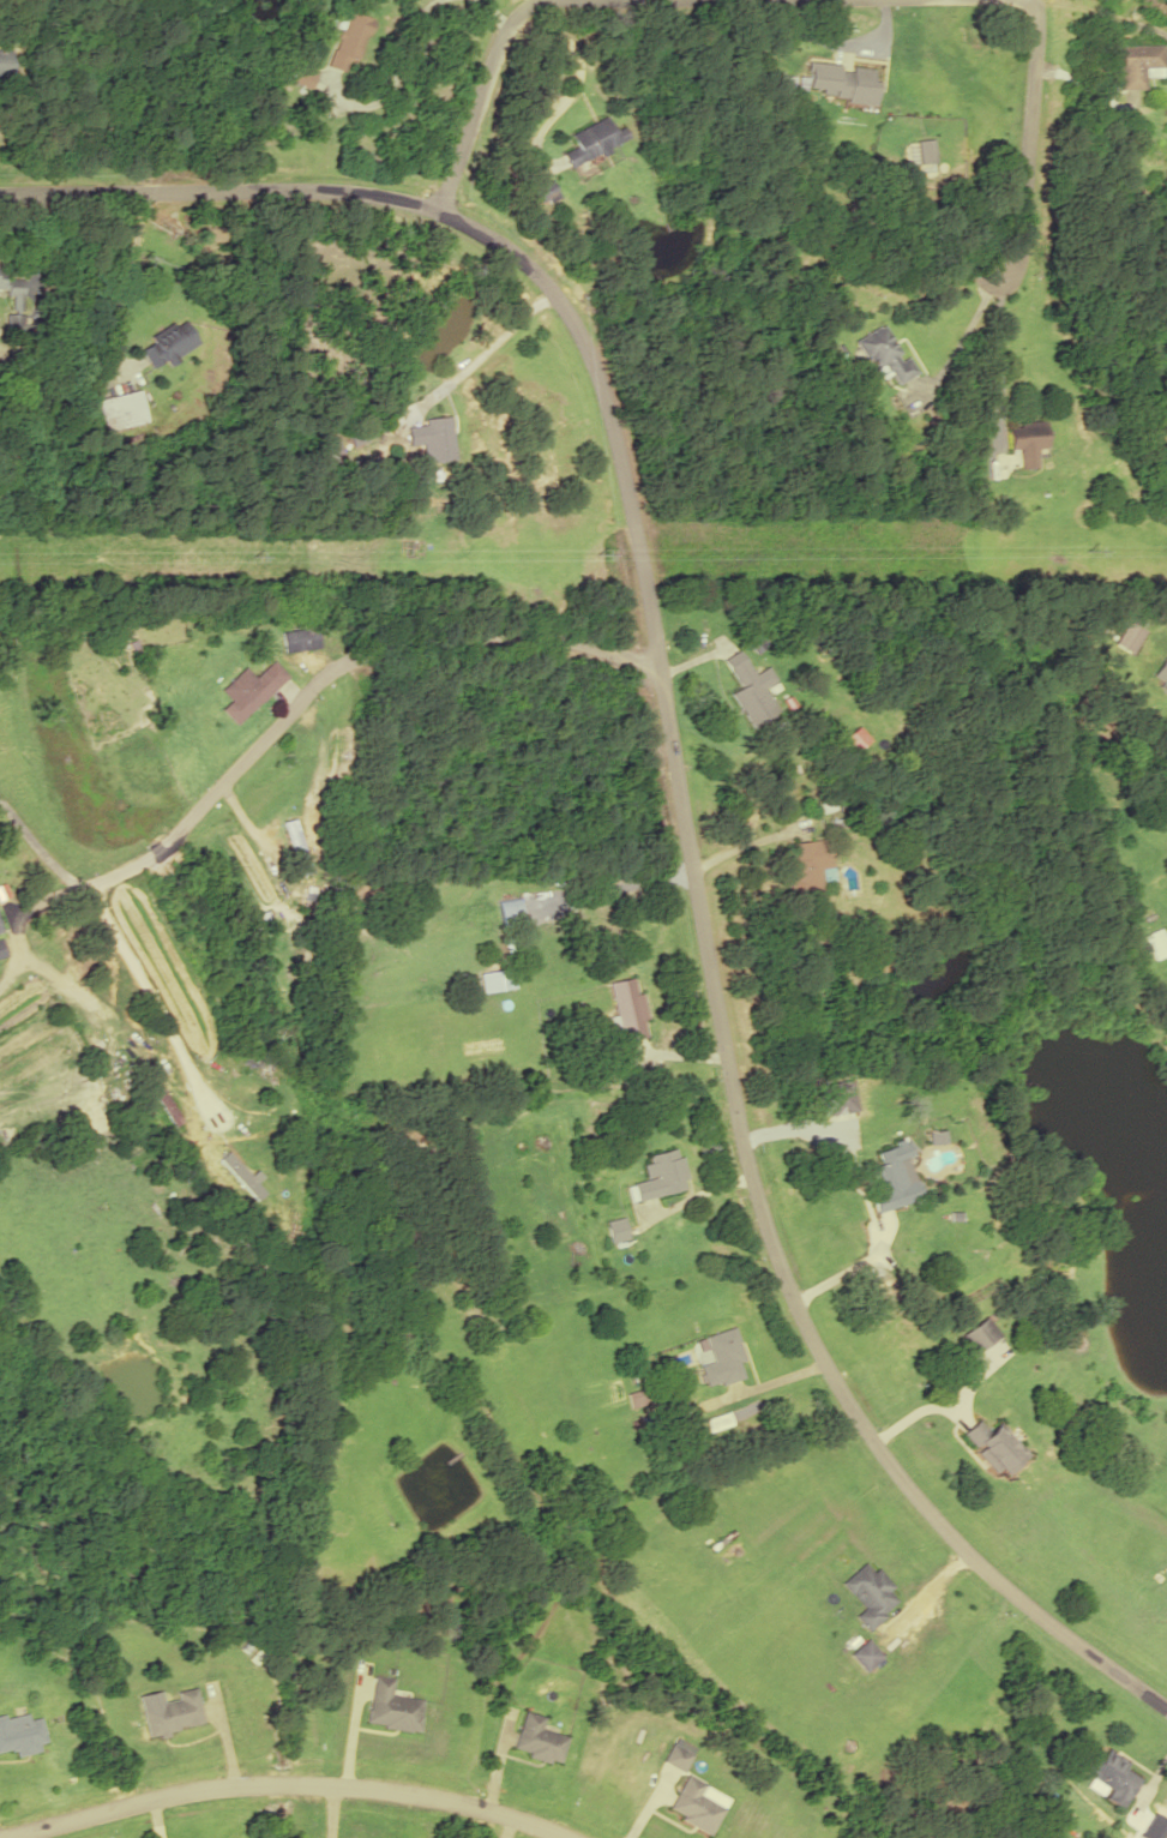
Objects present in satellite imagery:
building: (349, 40)
building: (2, 61)
building: (1138, 64)
road: (486, 71)
building: (302, 78)
building: (855, 84)
building: (591, 139)
road: (1028, 139)
building: (926, 150)
building: (13, 304)
building: (169, 343)
building: (884, 354)
building: (121, 409)
building: (431, 437)
building: (1028, 439)
building: (299, 638)
building: (744, 687)
building: (249, 690)
road: (306, 693)
road: (678, 782)
building: (296, 846)
building: (806, 861)
building: (1108, 883)
building: (509, 912)
building: (1156, 943)
building: (497, 980)
building: (628, 1009)
building: (89, 1046)
building: (660, 1175)
building: (888, 1177)
building: (615, 1229)
building: (975, 1334)
building: (722, 1357)
building: (993, 1448)
building: (870, 1594)
building: (864, 1656)
building: (390, 1707)
building: (172, 1713)
building: (19, 1734)
building: (537, 1740)
building: (676, 1756)
building: (1111, 1774)
road: (276, 1783)
building: (693, 1804)

